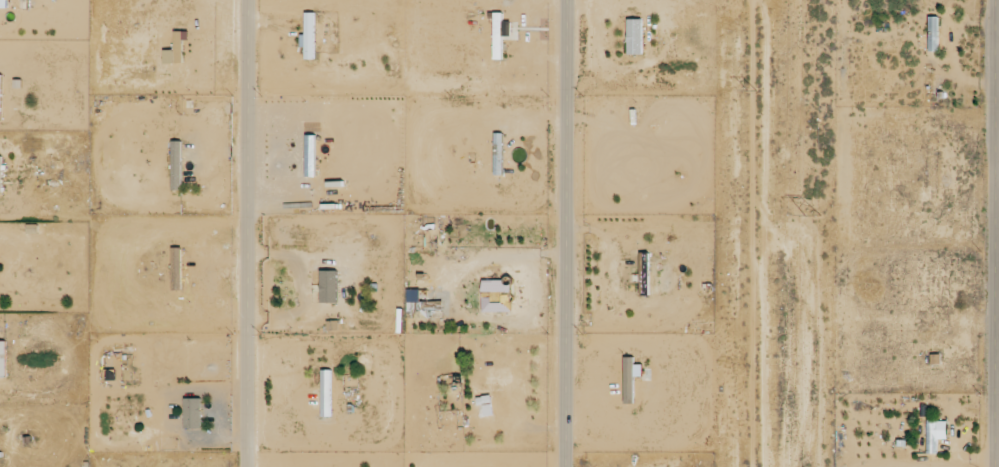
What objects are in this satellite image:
building: (634, 36)
power tower: (752, 91)
power tower: (814, 212)
road: (247, 233)
road: (565, 233)
road: (990, 233)
building: (648, 274)
building: (631, 380)

